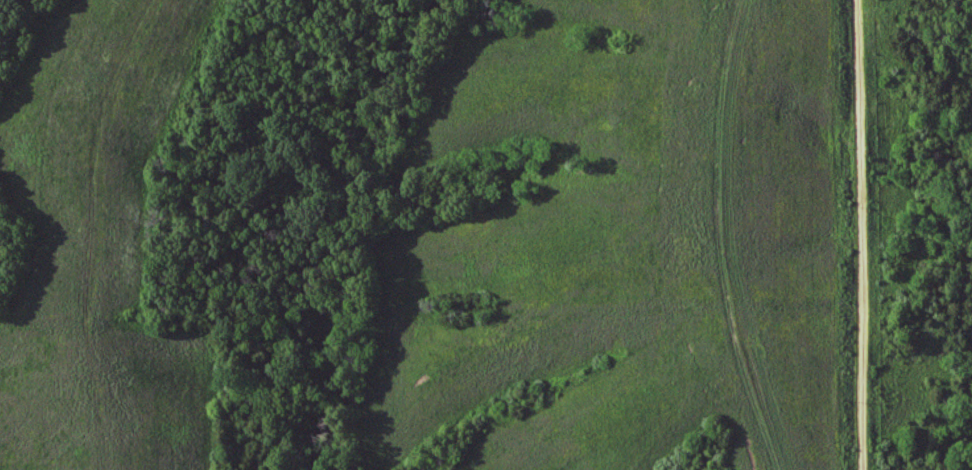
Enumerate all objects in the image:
road: (864, 234)
road: (731, 238)

